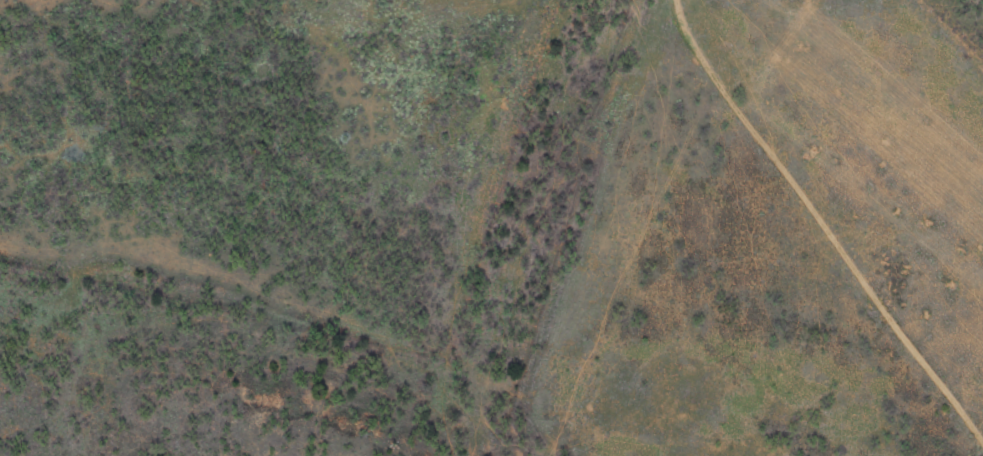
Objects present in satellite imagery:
road: (585, 236)

